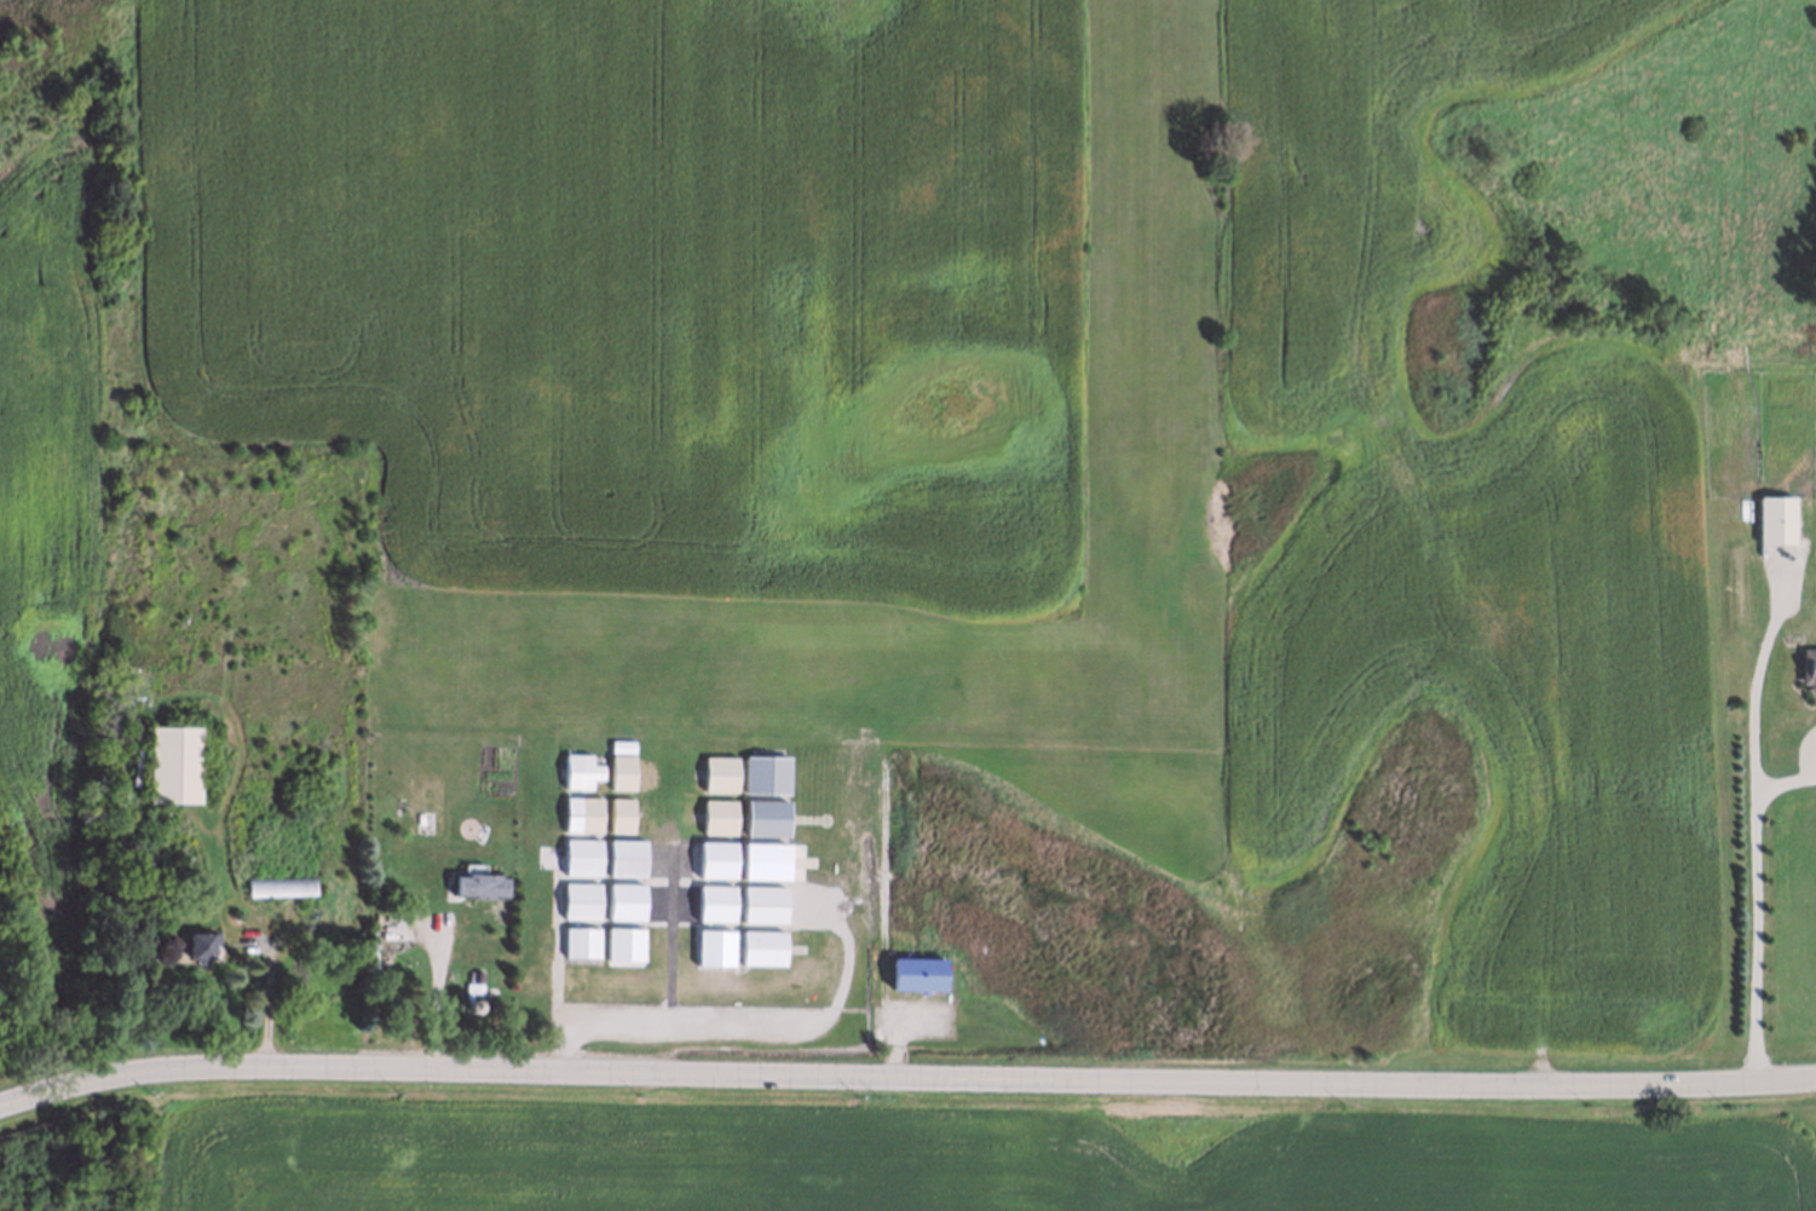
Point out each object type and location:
airport runway: (709, 232)
airport runway: (1151, 421)
airport runway: (628, 503)
building: (1772, 519)
airport runway: (783, 561)
building: (1810, 669)
airport hangar: (618, 745)
building: (618, 745)
building: (177, 767)
airport hangar: (580, 771)
building: (580, 771)
airport hangar: (717, 772)
building: (717, 772)
airport hangar: (621, 773)
building: (621, 773)
airport hangar: (765, 773)
building: (765, 773)
road: (1785, 785)
airport hangar: (582, 813)
building: (582, 813)
airport hangar: (619, 814)
building: (619, 814)
road: (1756, 814)
airport hangar: (715, 817)
building: (715, 817)
airport hangar: (765, 817)
building: (765, 817)
airport hangar: (578, 857)
building: (578, 857)
airport hangar: (624, 857)
building: (624, 857)
airport hangar: (715, 858)
building: (715, 858)
airport hangar: (763, 860)
building: (763, 860)
building: (281, 882)
building: (477, 888)
airport hangar: (577, 898)
building: (577, 898)
airport hangar: (624, 899)
building: (624, 899)
airport hangar: (711, 903)
building: (711, 903)
airport hangar: (765, 904)
building: (765, 904)
airport hangar: (577, 940)
building: (577, 940)
airport hangar: (623, 942)
building: (623, 942)
building: (203, 945)
airport hangar: (717, 947)
building: (717, 947)
airport hangar: (760, 947)
building: (760, 947)
building: (475, 971)
building: (919, 976)
building: (472, 986)
road: (434, 991)
road: (269, 994)
building: (469, 1004)
road: (905, 1063)

